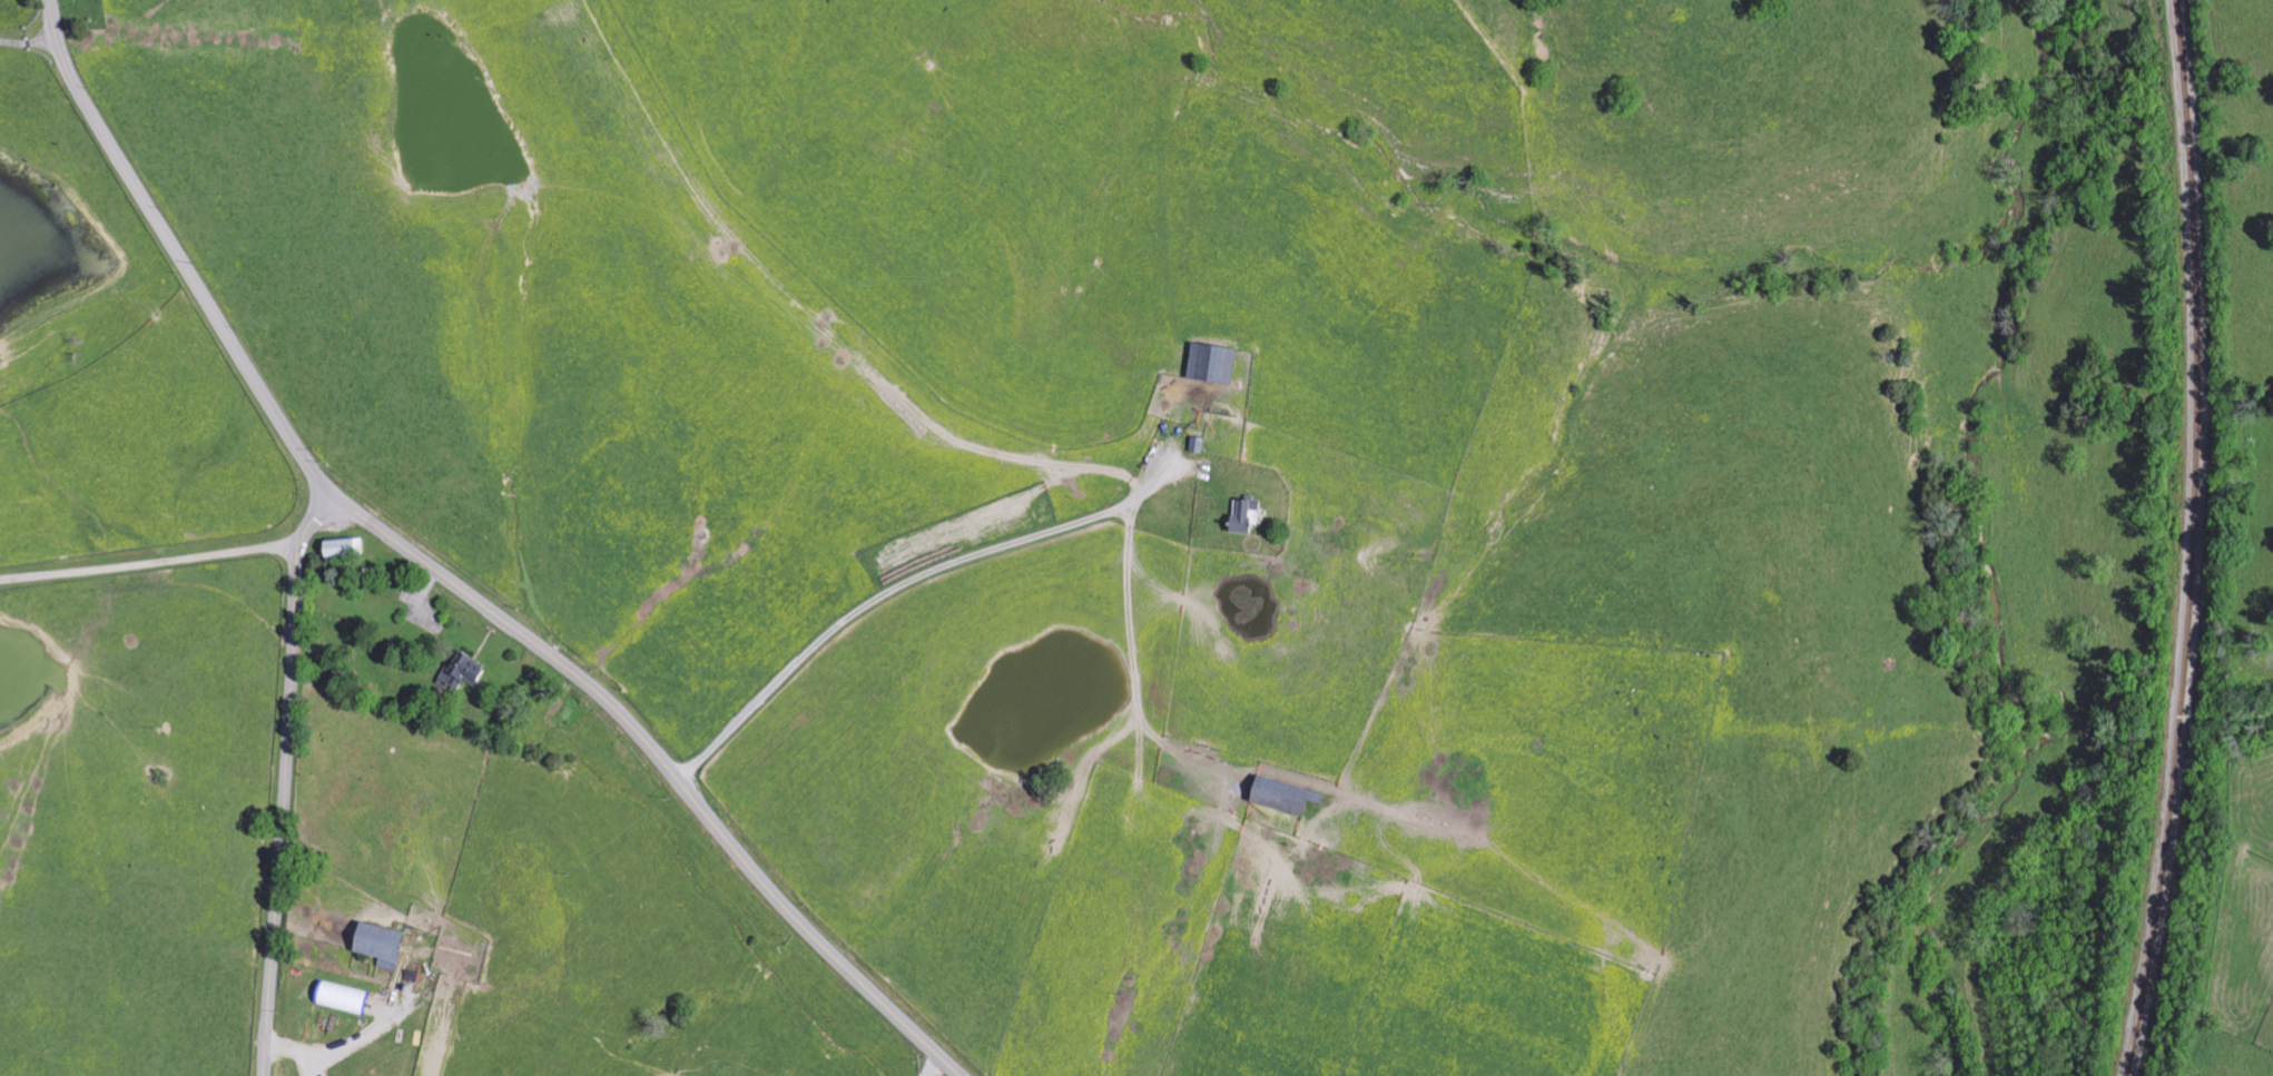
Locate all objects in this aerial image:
road: (30, 41)
road: (180, 255)
building: (1210, 364)
building: (1243, 517)
railway: (2194, 540)
building: (342, 549)
road: (151, 563)
road: (937, 563)
road: (668, 767)
road: (286, 779)
building: (1277, 797)
building: (376, 942)
building: (341, 997)

